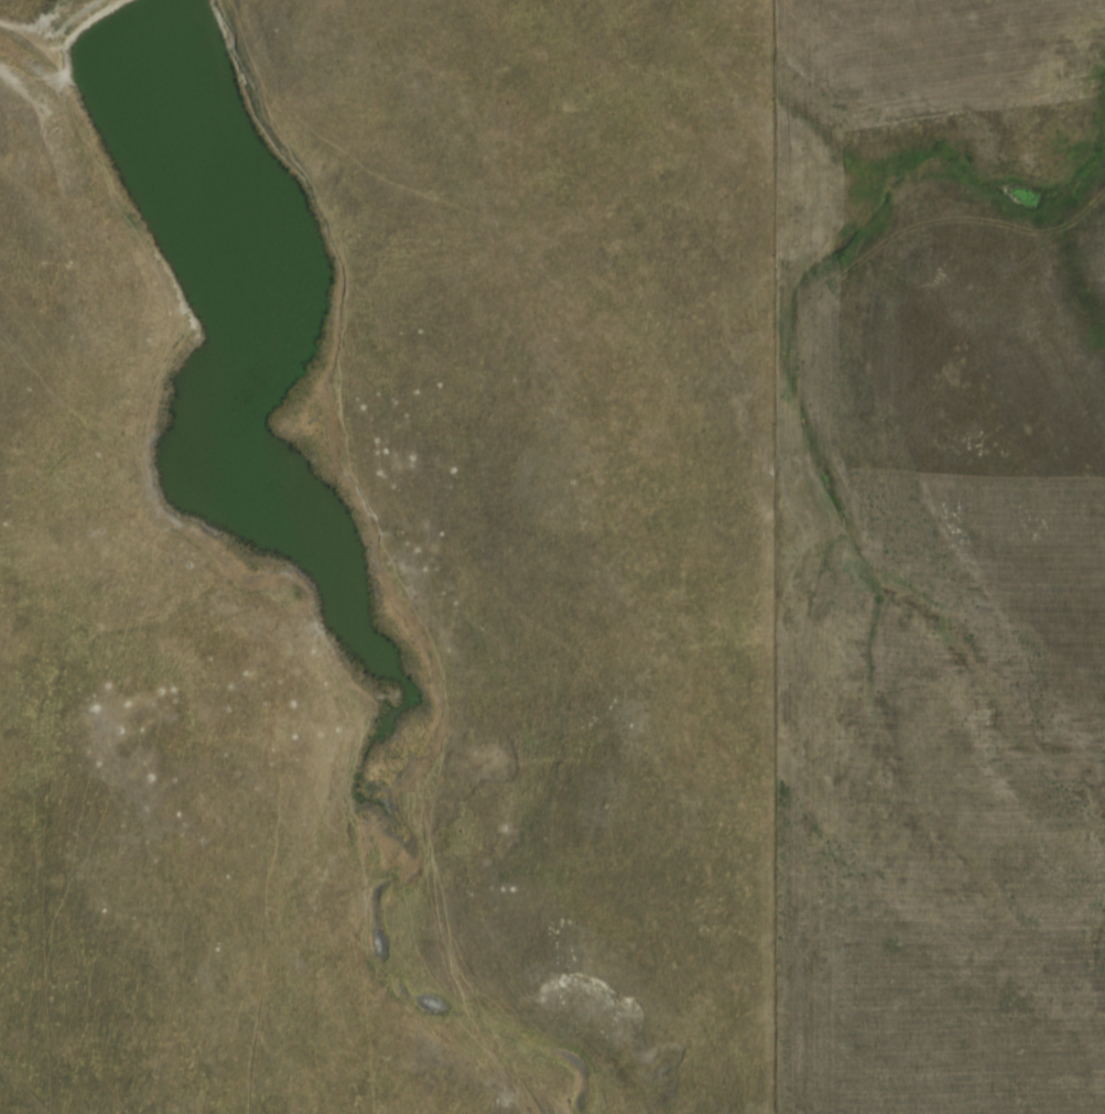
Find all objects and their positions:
road: (35, 1078)

